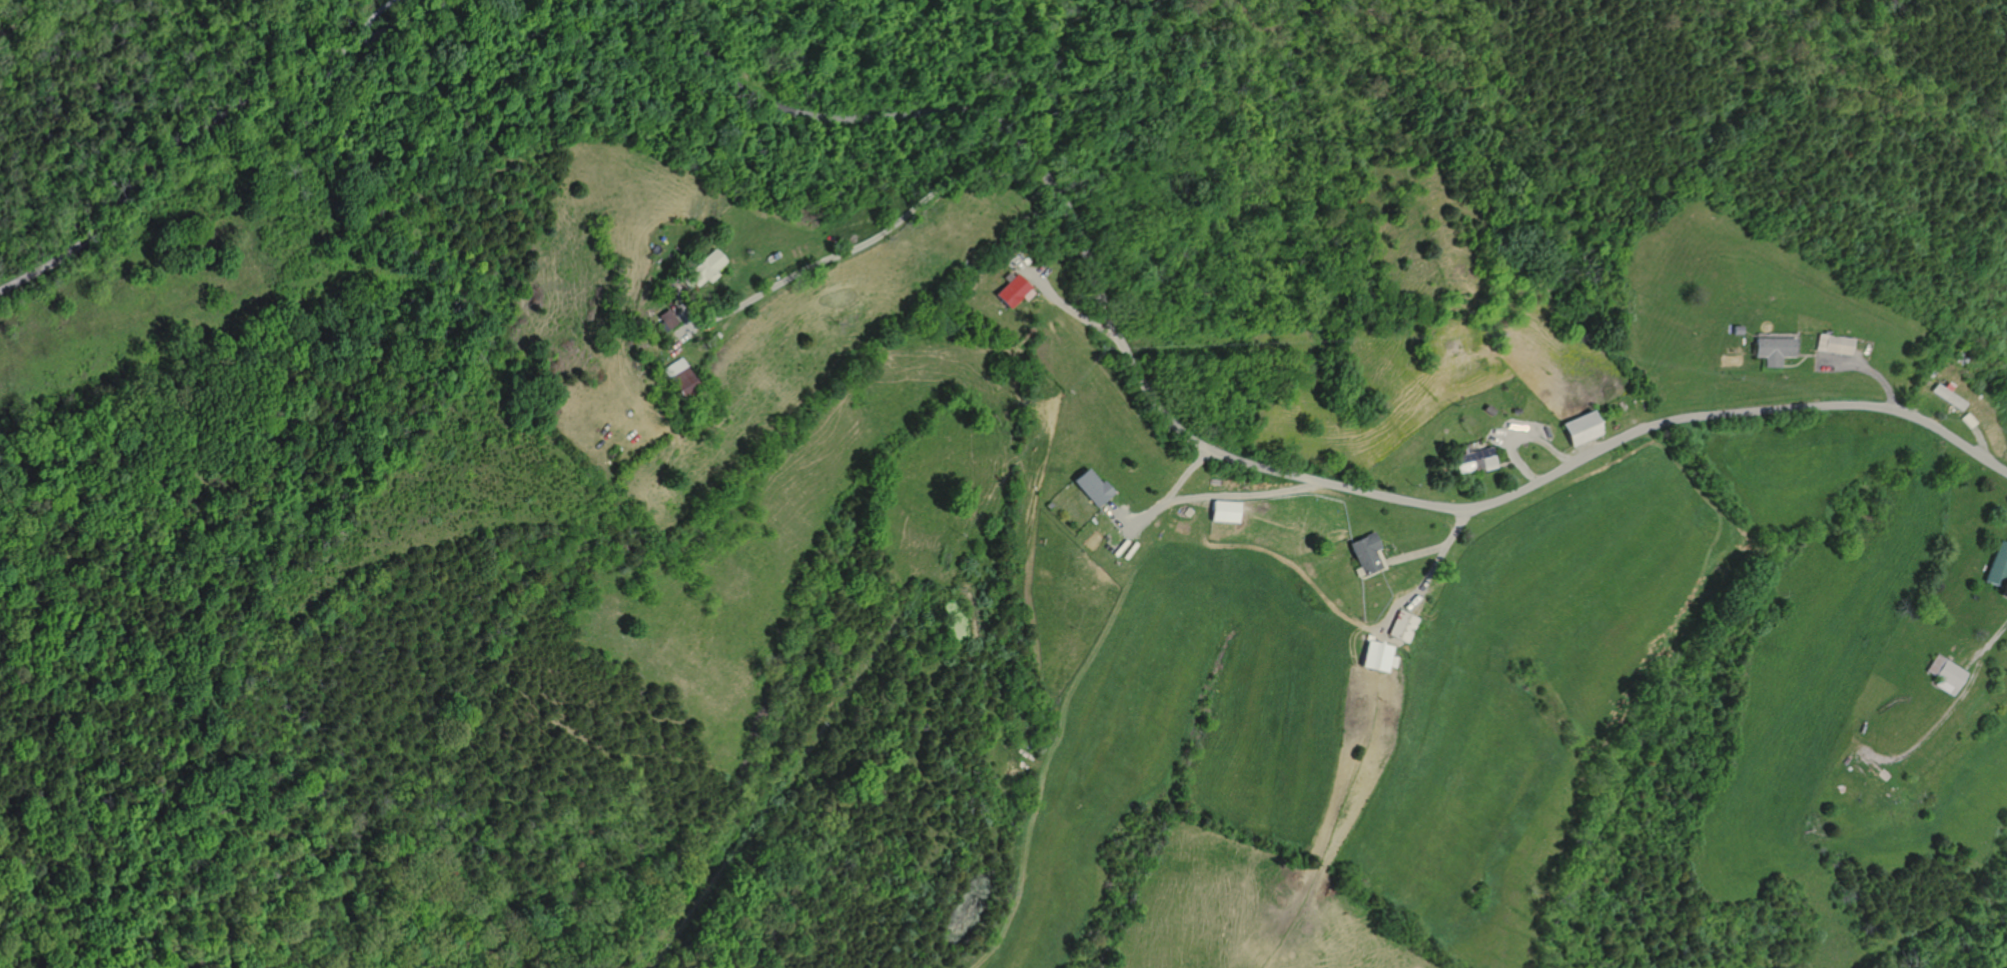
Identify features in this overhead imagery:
road: (209, 117)
road: (863, 242)
building: (1004, 256)
building: (700, 269)
road: (1035, 272)
building: (1010, 291)
road: (1055, 300)
road: (680, 314)
building: (663, 321)
building: (1733, 330)
building: (1827, 344)
building: (1769, 349)
road: (1850, 357)
road: (1795, 361)
road: (1860, 369)
building: (679, 382)
building: (1986, 390)
building: (1943, 396)
building: (1483, 410)
building: (1509, 411)
building: (1575, 428)
road: (1515, 436)
road: (1974, 436)
road: (1498, 437)
road: (1227, 457)
building: (1471, 461)
building: (1089, 486)
road: (1237, 495)
road: (1158, 503)
building: (1048, 505)
building: (1221, 510)
road: (1428, 549)
building: (1361, 552)
building: (1998, 566)
road: (1375, 569)
road: (1296, 573)
road: (1409, 595)
building: (1397, 625)
road: (1388, 642)
road: (1986, 642)
building: (1372, 655)
building: (1945, 674)
road: (1935, 725)

